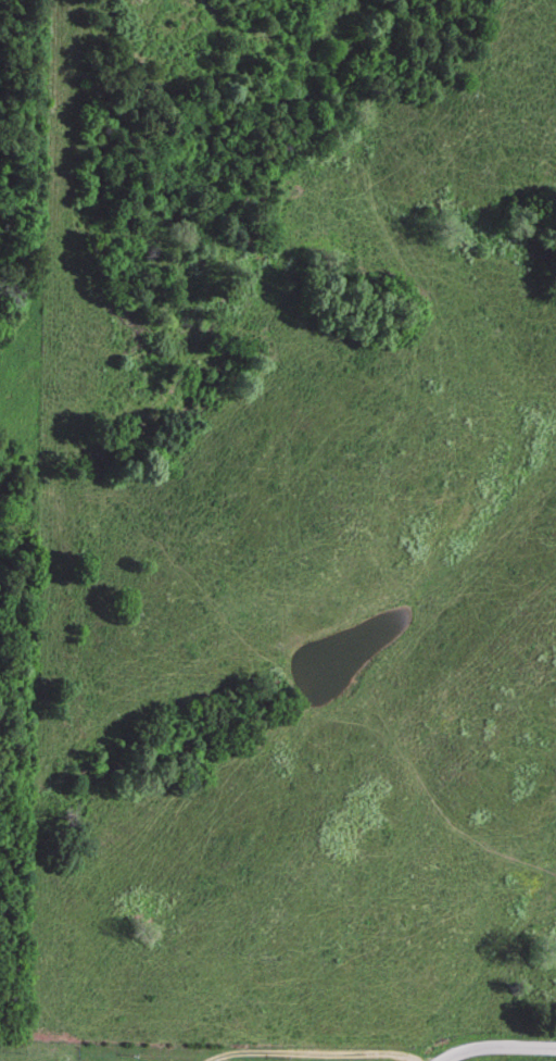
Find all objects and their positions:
road: (492, 1044)
road: (312, 1053)

